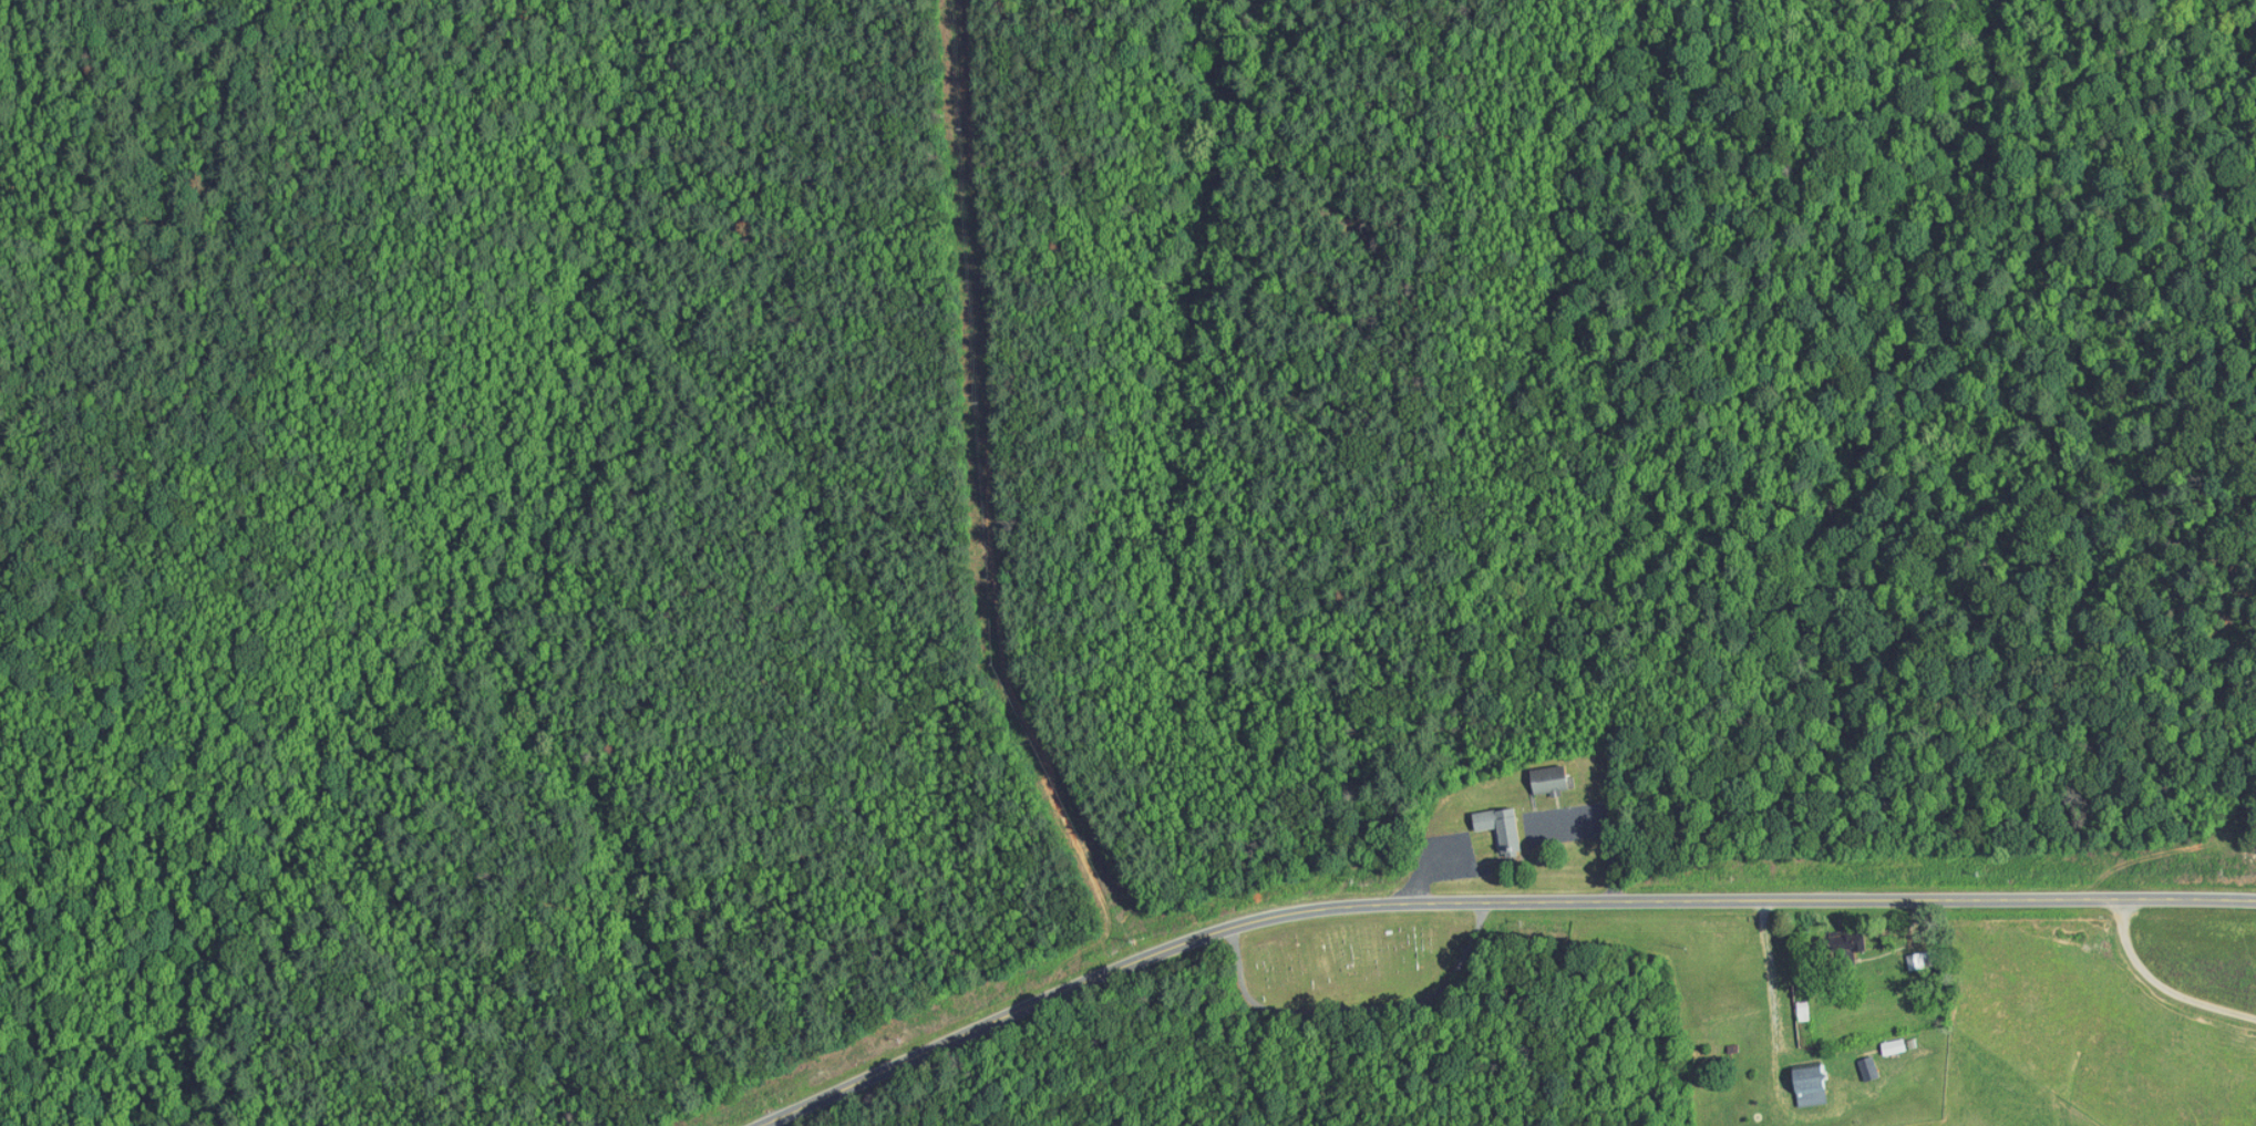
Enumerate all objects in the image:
building: (1531, 772)
building: (1482, 819)
road: (1485, 892)
building: (1832, 938)
park: (1352, 959)
road: (1774, 982)
road: (2157, 984)
building: (1789, 1003)
building: (1879, 1039)
building: (1853, 1061)
building: (1794, 1076)
road: (770, 1124)

